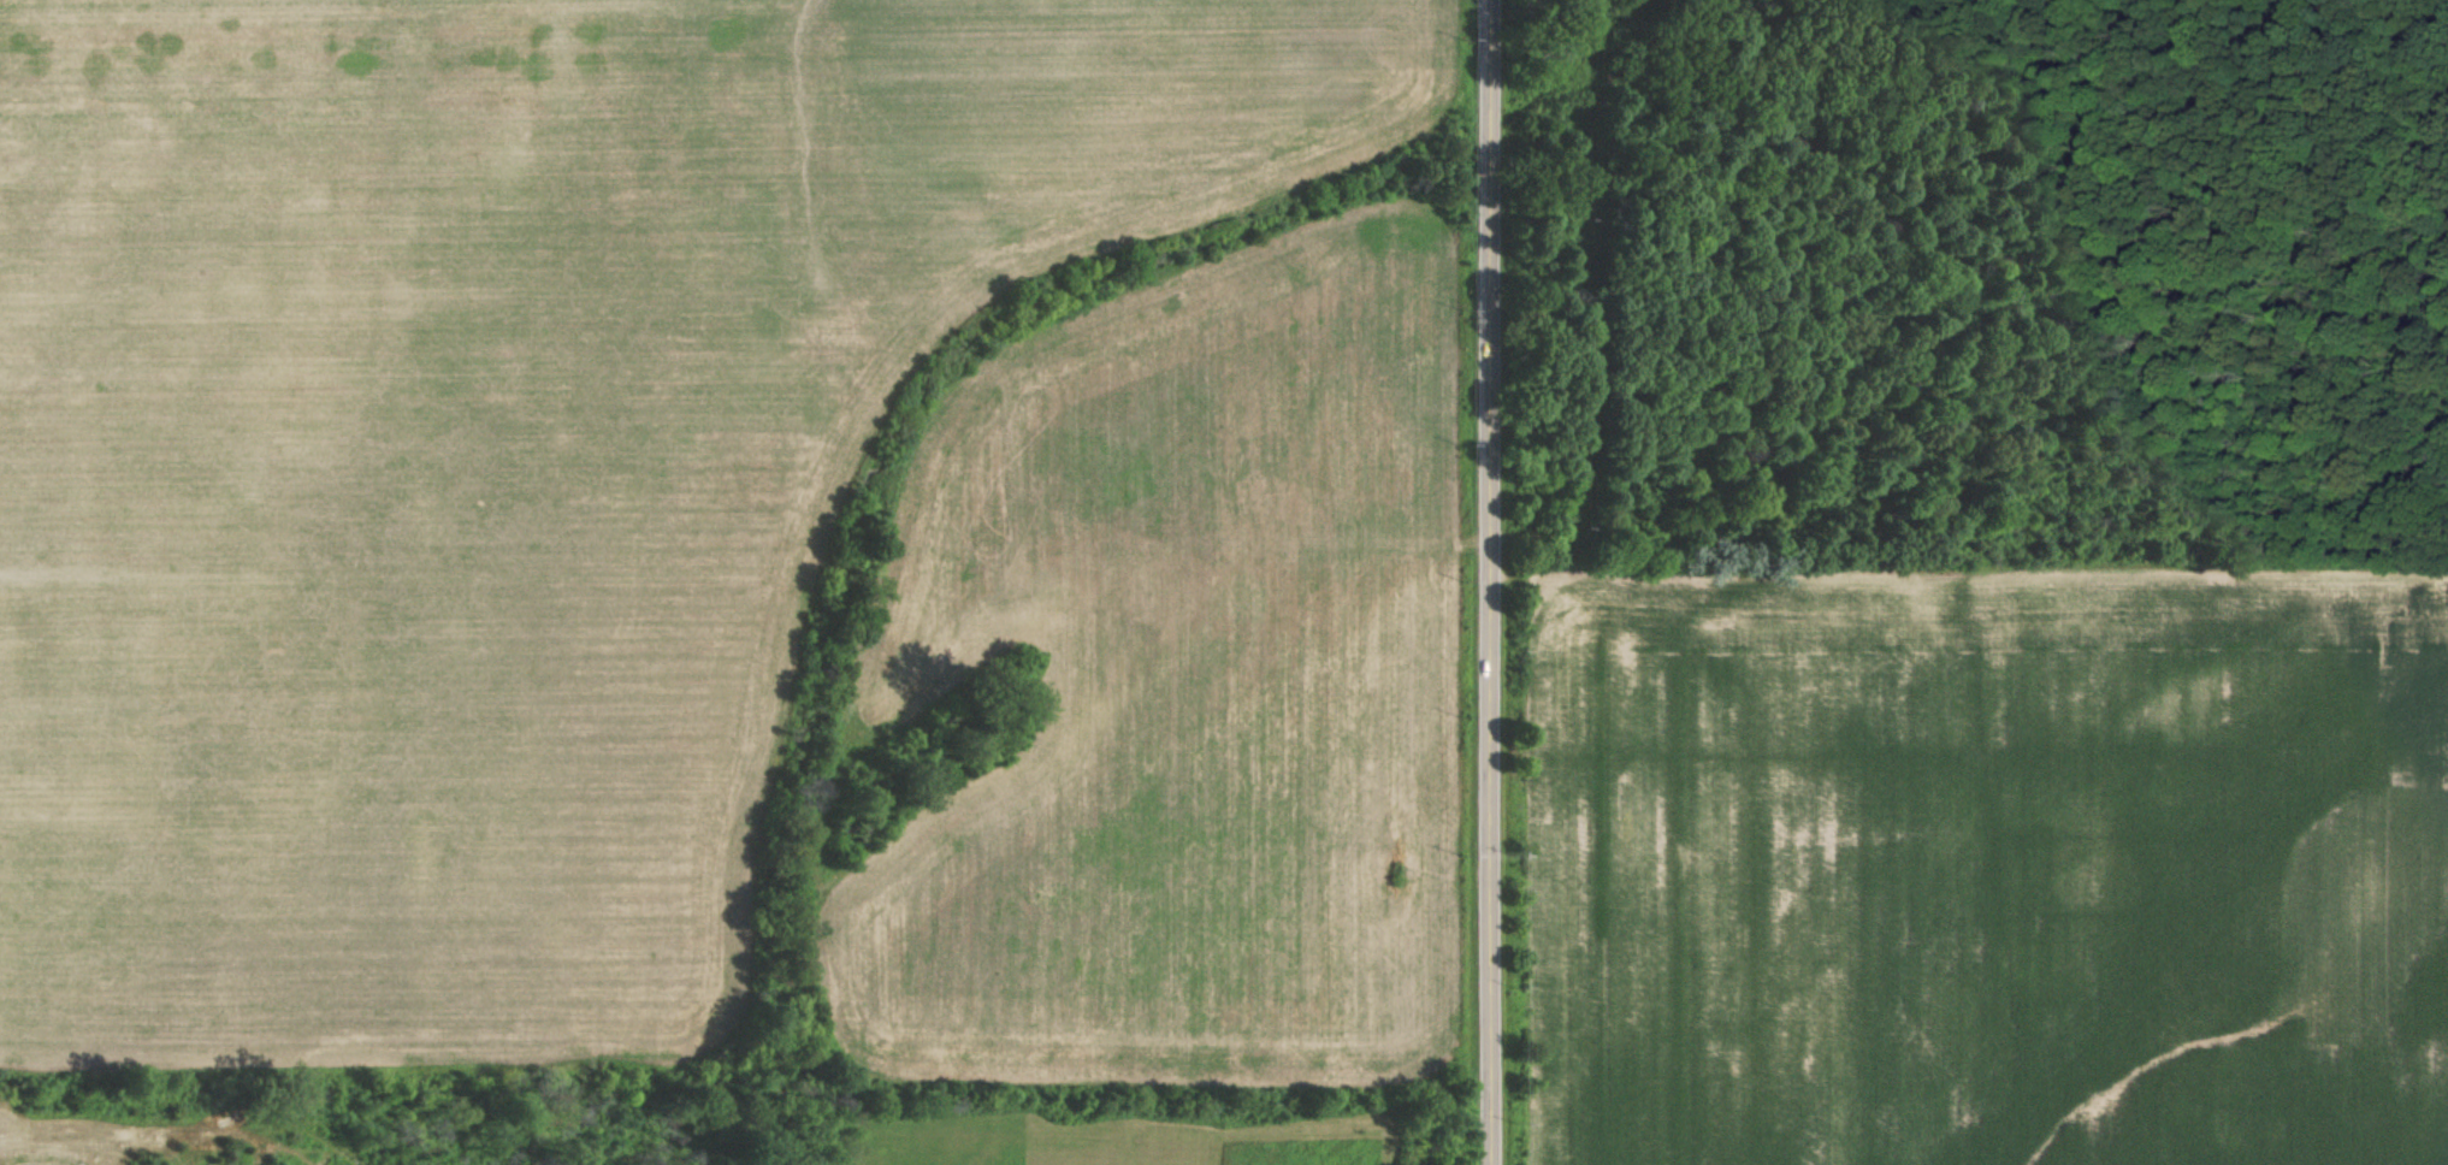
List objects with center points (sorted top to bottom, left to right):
road: (1486, 581)

